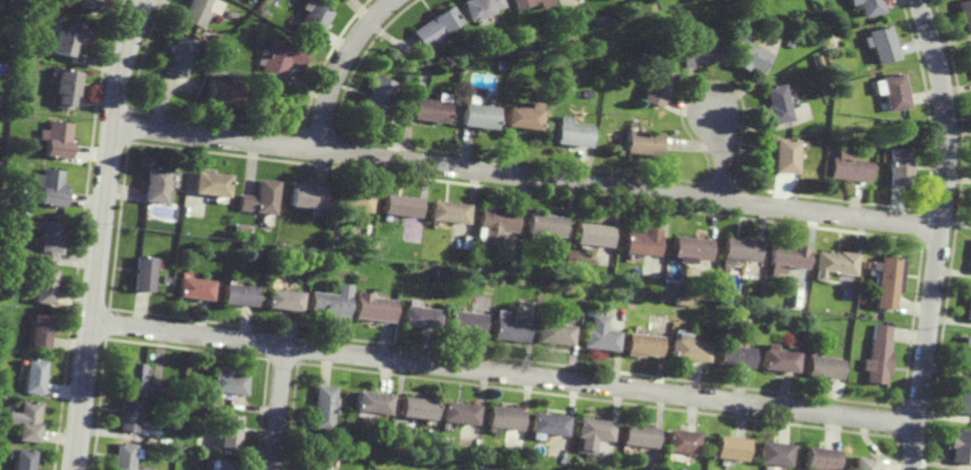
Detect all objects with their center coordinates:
building: (531, 3)
building: (91, 5)
building: (867, 6)
building: (17, 7)
building: (653, 7)
building: (480, 8)
building: (261, 10)
building: (196, 12)
building: (230, 15)
building: (964, 15)
building: (312, 20)
building: (260, 21)
building: (436, 26)
building: (72, 41)
building: (787, 42)
building: (882, 44)
building: (969, 52)
building: (695, 53)
building: (746, 56)
building: (178, 57)
building: (281, 57)
building: (502, 65)
road: (339, 67)
building: (8, 69)
building: (658, 87)
building: (68, 89)
building: (220, 91)
building: (891, 91)
building: (375, 99)
building: (775, 104)
building: (431, 111)
building: (15, 115)
building: (480, 116)
building: (524, 118)
building: (573, 133)
building: (59, 141)
building: (643, 143)
building: (784, 156)
road: (722, 157)
building: (1, 165)
building: (897, 166)
building: (846, 167)
road: (526, 176)
building: (209, 181)
building: (155, 183)
building: (50, 186)
building: (176, 192)
building: (305, 195)
building: (258, 196)
building: (350, 199)
building: (400, 204)
building: (447, 211)
building: (494, 222)
building: (544, 224)
building: (331, 230)
road: (101, 233)
road: (938, 233)
building: (592, 234)
building: (48, 240)
building: (640, 241)
building: (687, 247)
building: (735, 247)
road: (809, 247)
building: (376, 255)
building: (784, 257)
building: (289, 263)
building: (832, 263)
building: (865, 264)
building: (970, 264)
building: (316, 269)
building: (780, 269)
building: (970, 271)
building: (142, 272)
building: (439, 272)
building: (276, 274)
building: (306, 274)
building: (478, 275)
building: (165, 278)
building: (360, 278)
building: (624, 278)
building: (515, 280)
building: (885, 281)
building: (289, 283)
building: (42, 285)
building: (194, 287)
building: (566, 288)
building: (239, 293)
building: (284, 298)
building: (329, 303)
building: (967, 304)
building: (373, 307)
building: (417, 314)
building: (462, 321)
building: (715, 323)
building: (506, 326)
building: (37, 330)
building: (553, 333)
building: (596, 334)
building: (641, 344)
building: (790, 344)
building: (686, 347)
building: (964, 350)
building: (876, 355)
building: (732, 356)
building: (777, 360)
building: (821, 366)
road: (503, 373)
building: (30, 376)
building: (130, 376)
building: (227, 381)
building: (962, 398)
building: (370, 402)
building: (323, 406)
building: (416, 407)
road: (279, 408)
building: (457, 412)
building: (126, 414)
building: (502, 417)
building: (26, 421)
building: (547, 423)
building: (2, 431)
building: (228, 431)
building: (590, 432)
building: (637, 436)
building: (679, 441)
building: (960, 446)
building: (727, 447)
building: (383, 451)
building: (771, 453)
building: (120, 456)
building: (816, 458)
building: (20, 459)
building: (316, 463)
building: (512, 463)
building: (861, 463)
building: (223, 464)

